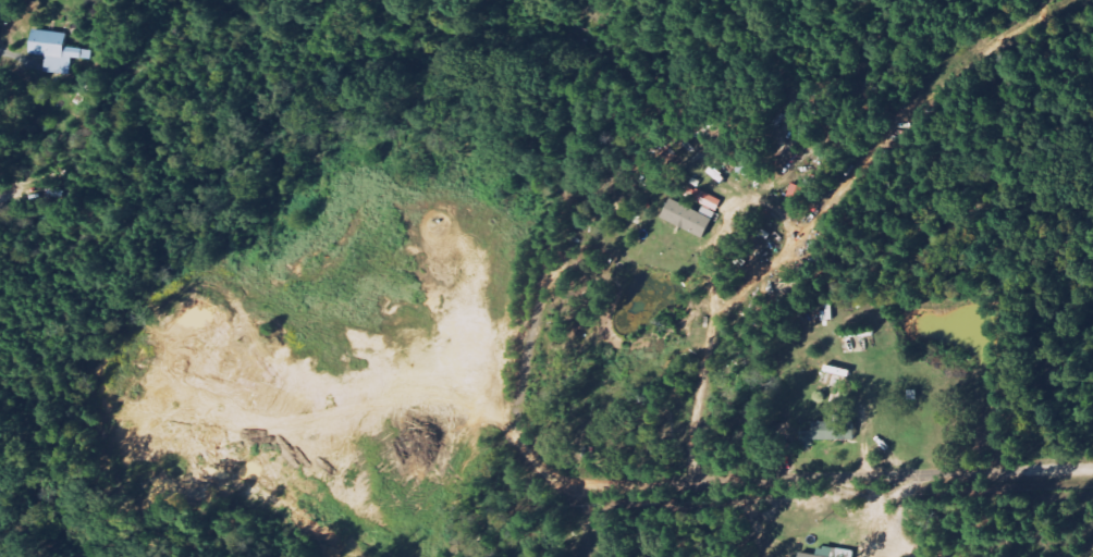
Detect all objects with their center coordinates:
building: (58, 50)
building: (704, 199)
building: (689, 216)
building: (830, 431)
road: (887, 473)
building: (835, 554)

